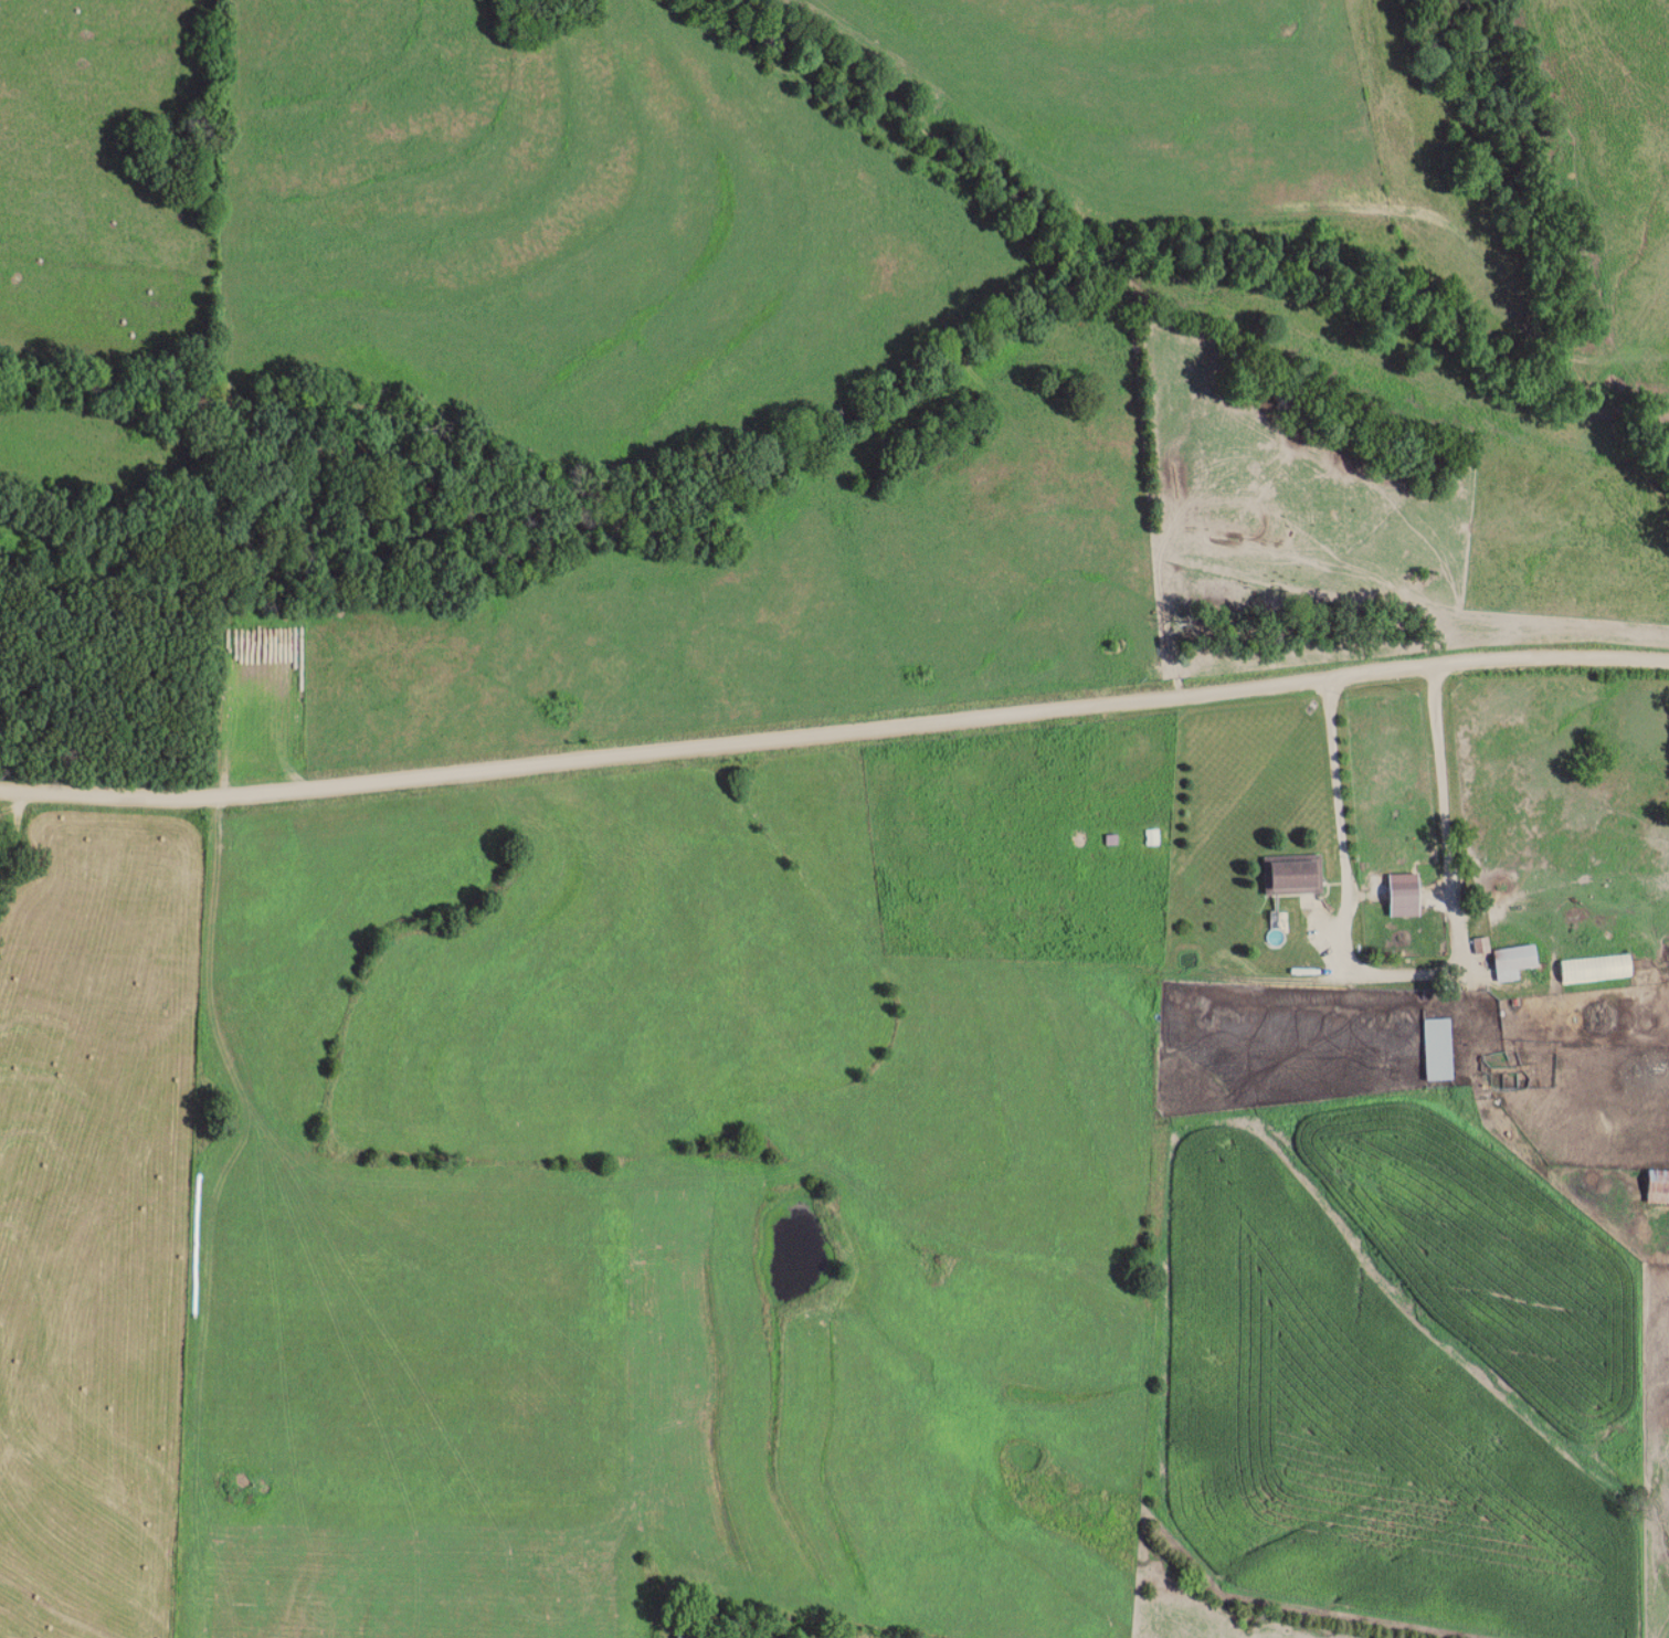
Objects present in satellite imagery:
road: (834, 732)
building: (1152, 837)
building: (1289, 875)
building: (1402, 895)
building: (1508, 960)
road: (1403, 969)
building: (1593, 969)
building: (1436, 1049)
building: (1657, 1186)
building: (691, 1635)

